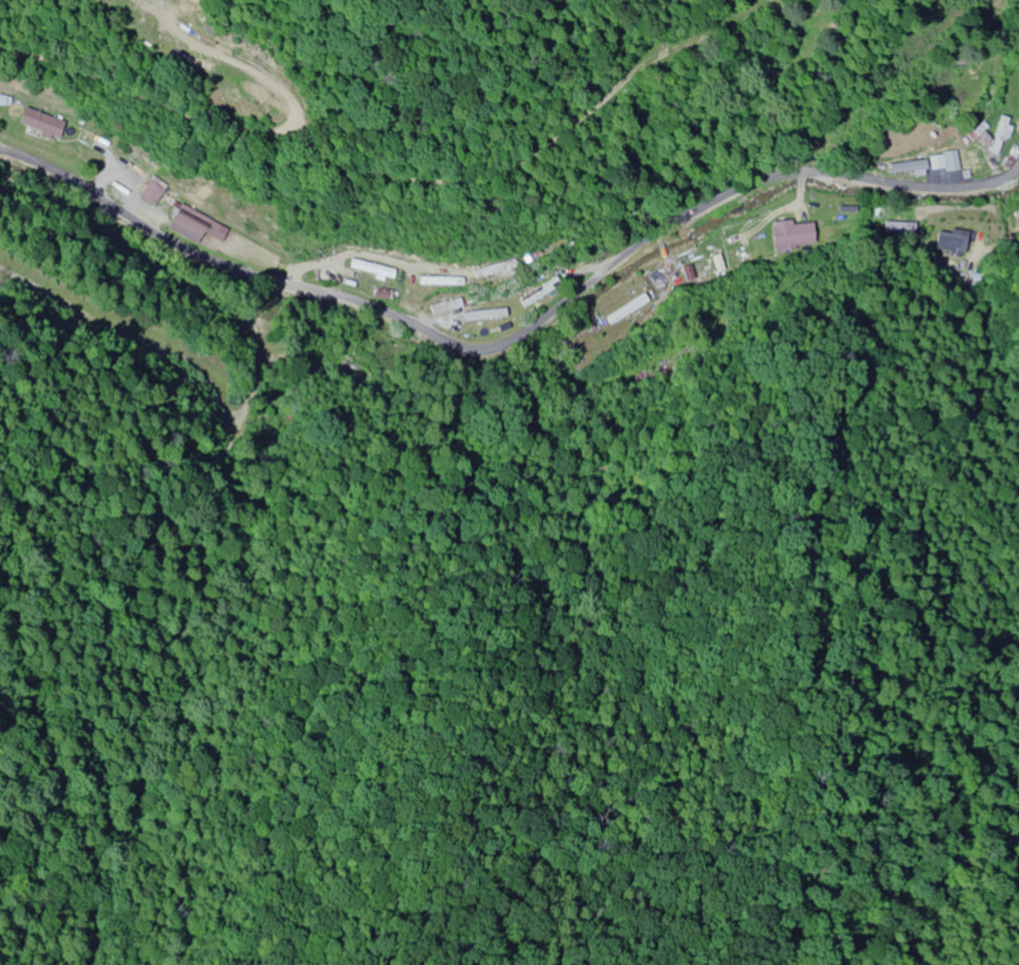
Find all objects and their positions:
building: (42, 124)
building: (1001, 136)
building: (957, 162)
building: (909, 168)
building: (152, 194)
road: (820, 214)
building: (195, 226)
building: (900, 228)
building: (793, 236)
building: (951, 242)
building: (530, 257)
road: (552, 258)
building: (372, 270)
building: (493, 271)
building: (326, 277)
building: (439, 282)
building: (539, 293)
building: (382, 295)
building: (445, 307)
building: (629, 308)
building: (484, 316)
building: (355, 373)
building: (278, 429)

